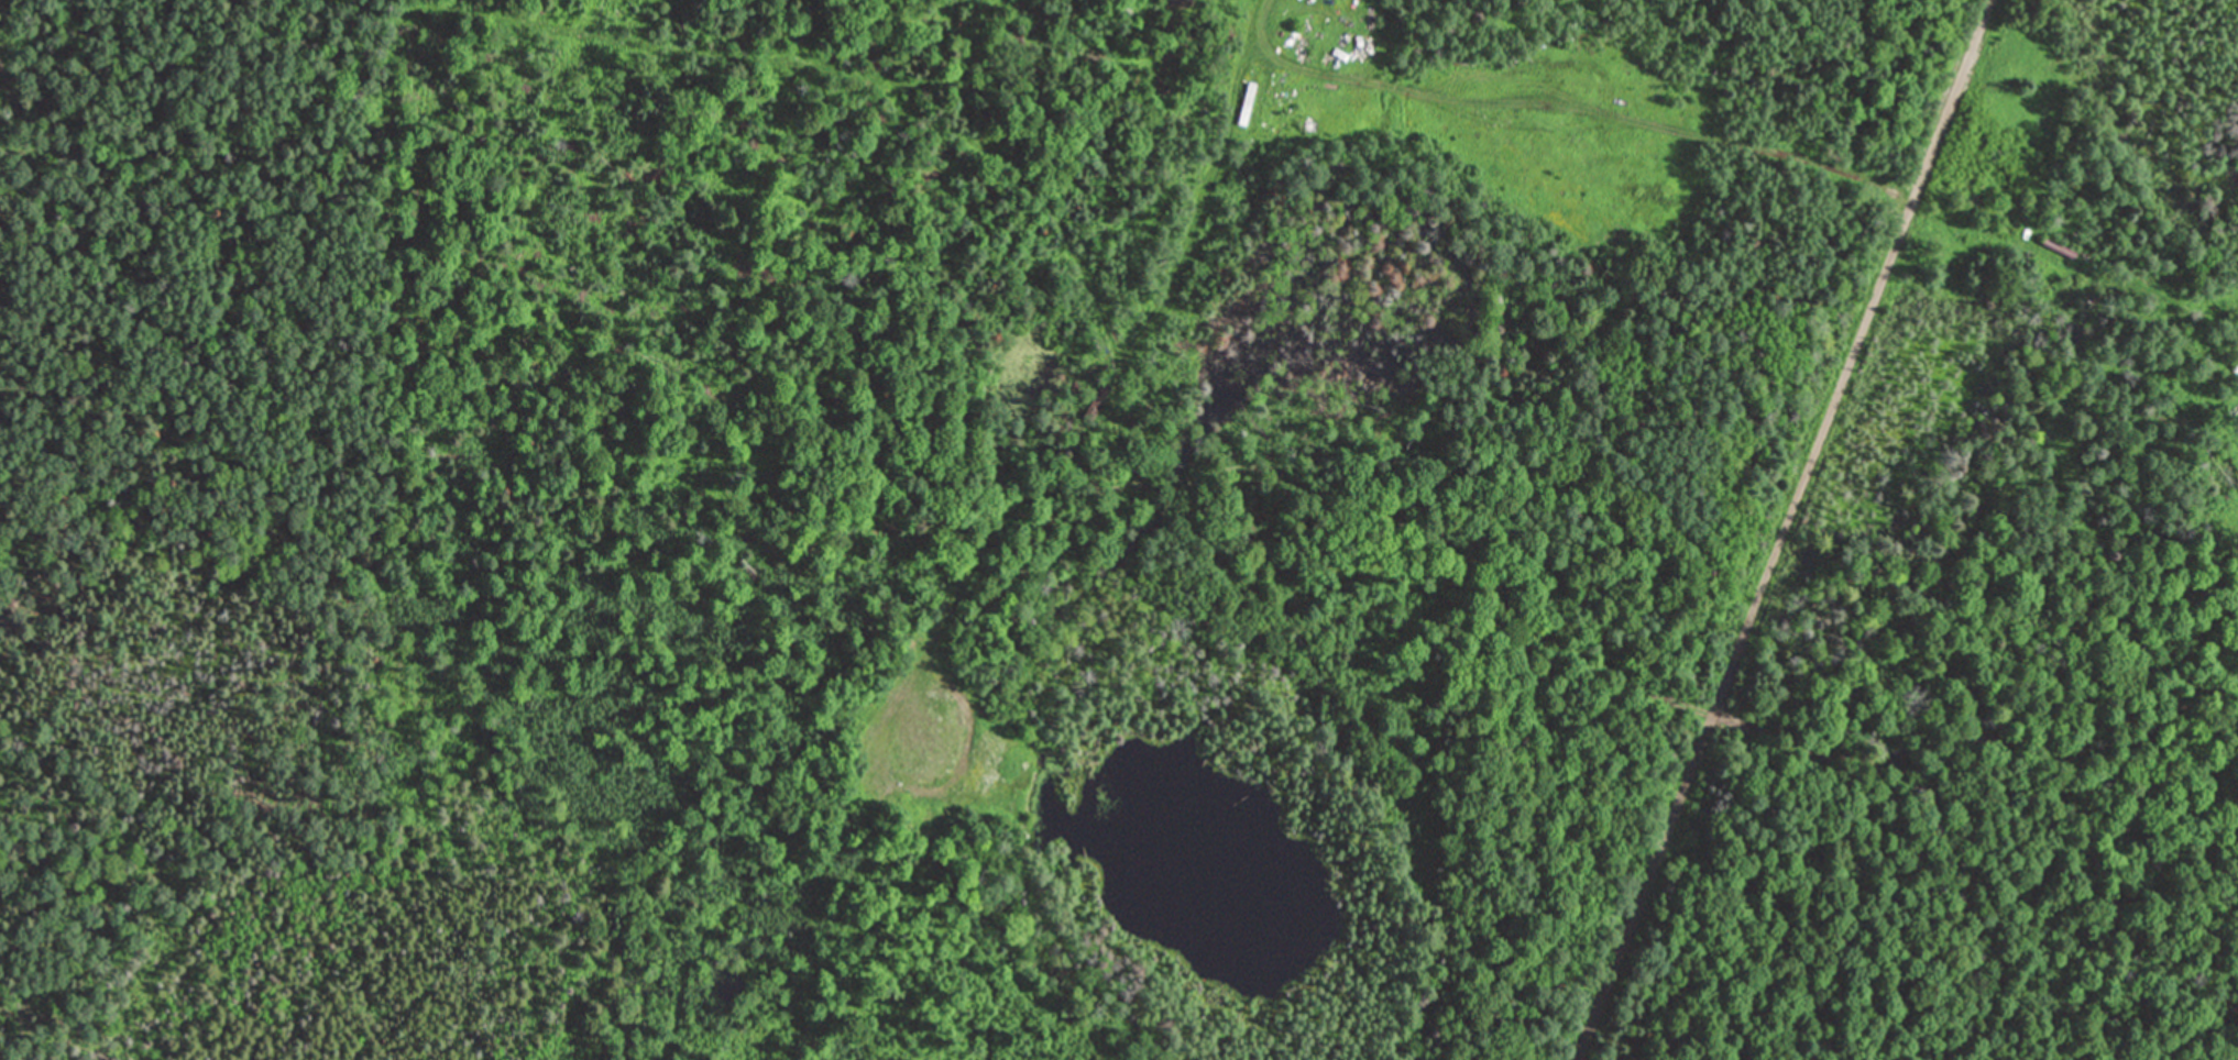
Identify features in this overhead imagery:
road: (1779, 530)

